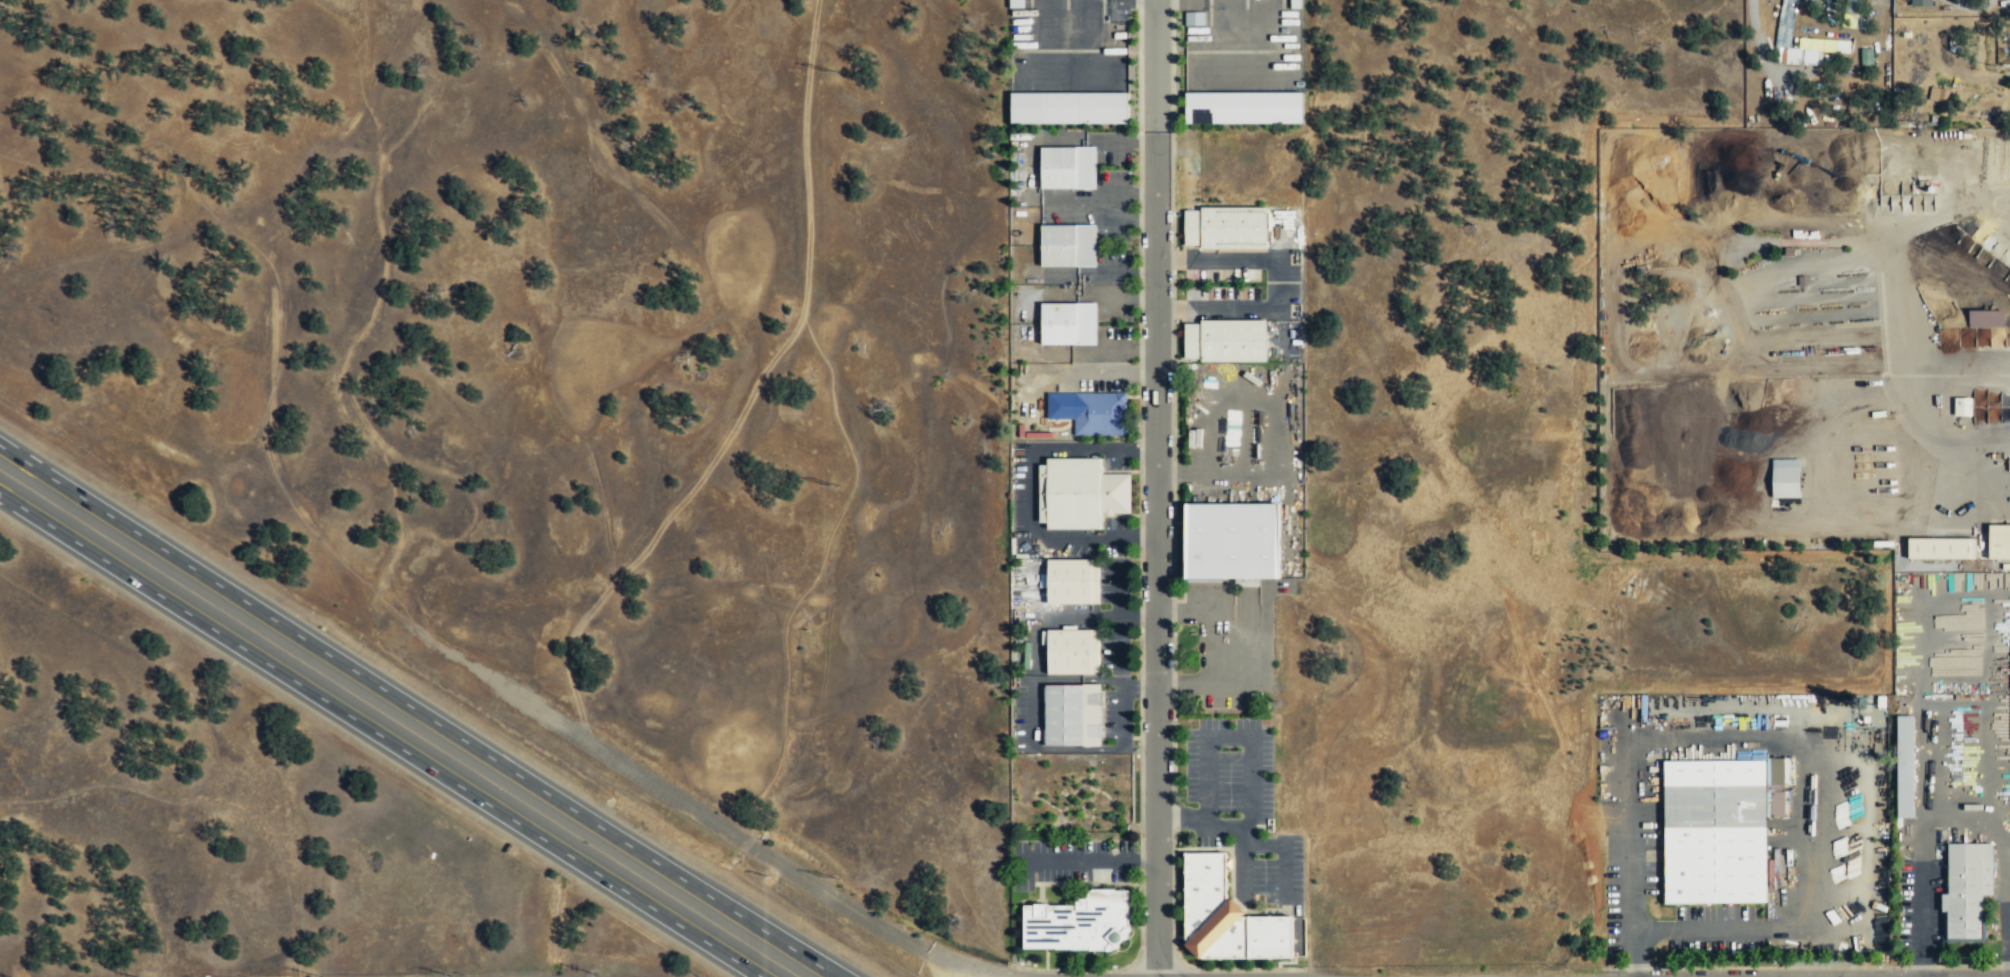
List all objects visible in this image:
building: (1921, 2)
building: (1295, 4)
building: (1785, 23)
building: (1823, 45)
power tower: (833, 74)
building: (1856, 89)
building: (1938, 98)
building: (1069, 107)
building: (1243, 107)
building: (1067, 167)
building: (1224, 227)
building: (1068, 245)
building: (1986, 318)
building: (1068, 323)
building: (1224, 340)
quarry: (1805, 340)
building: (1099, 413)
building: (1785, 478)
power tower: (836, 483)
building: (1079, 493)
building: (1231, 541)
building: (1999, 542)
building: (1941, 548)
road: (1158, 564)
building: (1072, 582)
building: (1071, 651)
road: (419, 711)
building: (1072, 715)
road: (382, 733)
building: (1904, 766)
road: (702, 813)
building: (1719, 829)
power tower: (838, 878)
building: (1967, 890)
building: (1227, 918)
building: (1079, 923)

